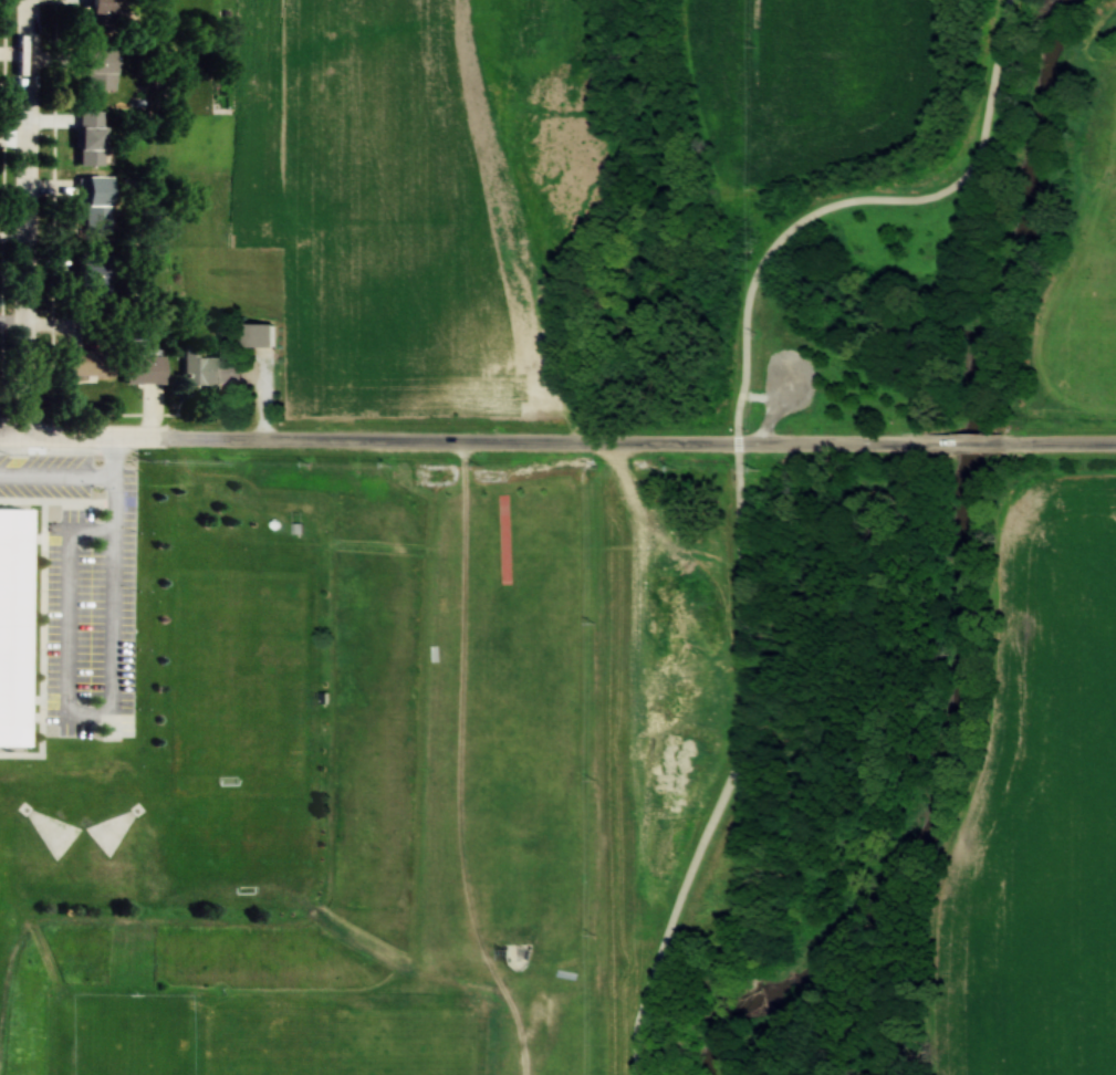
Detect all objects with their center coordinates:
building: (95, 14)
building: (96, 69)
building: (88, 137)
building: (95, 205)
road: (23, 218)
road: (541, 220)
building: (93, 267)
building: (255, 334)
building: (80, 362)
building: (139, 366)
building: (208, 368)
road: (281, 441)
road: (674, 443)
road: (859, 445)
road: (950, 445)
road: (1041, 445)
road: (738, 468)
building: (273, 524)
building: (503, 539)
airport runway: (1091, 553)
parking lot: (81, 586)
building: (12, 622)
road: (39, 626)
park: (241, 687)
park: (134, 1033)
park: (337, 1035)

